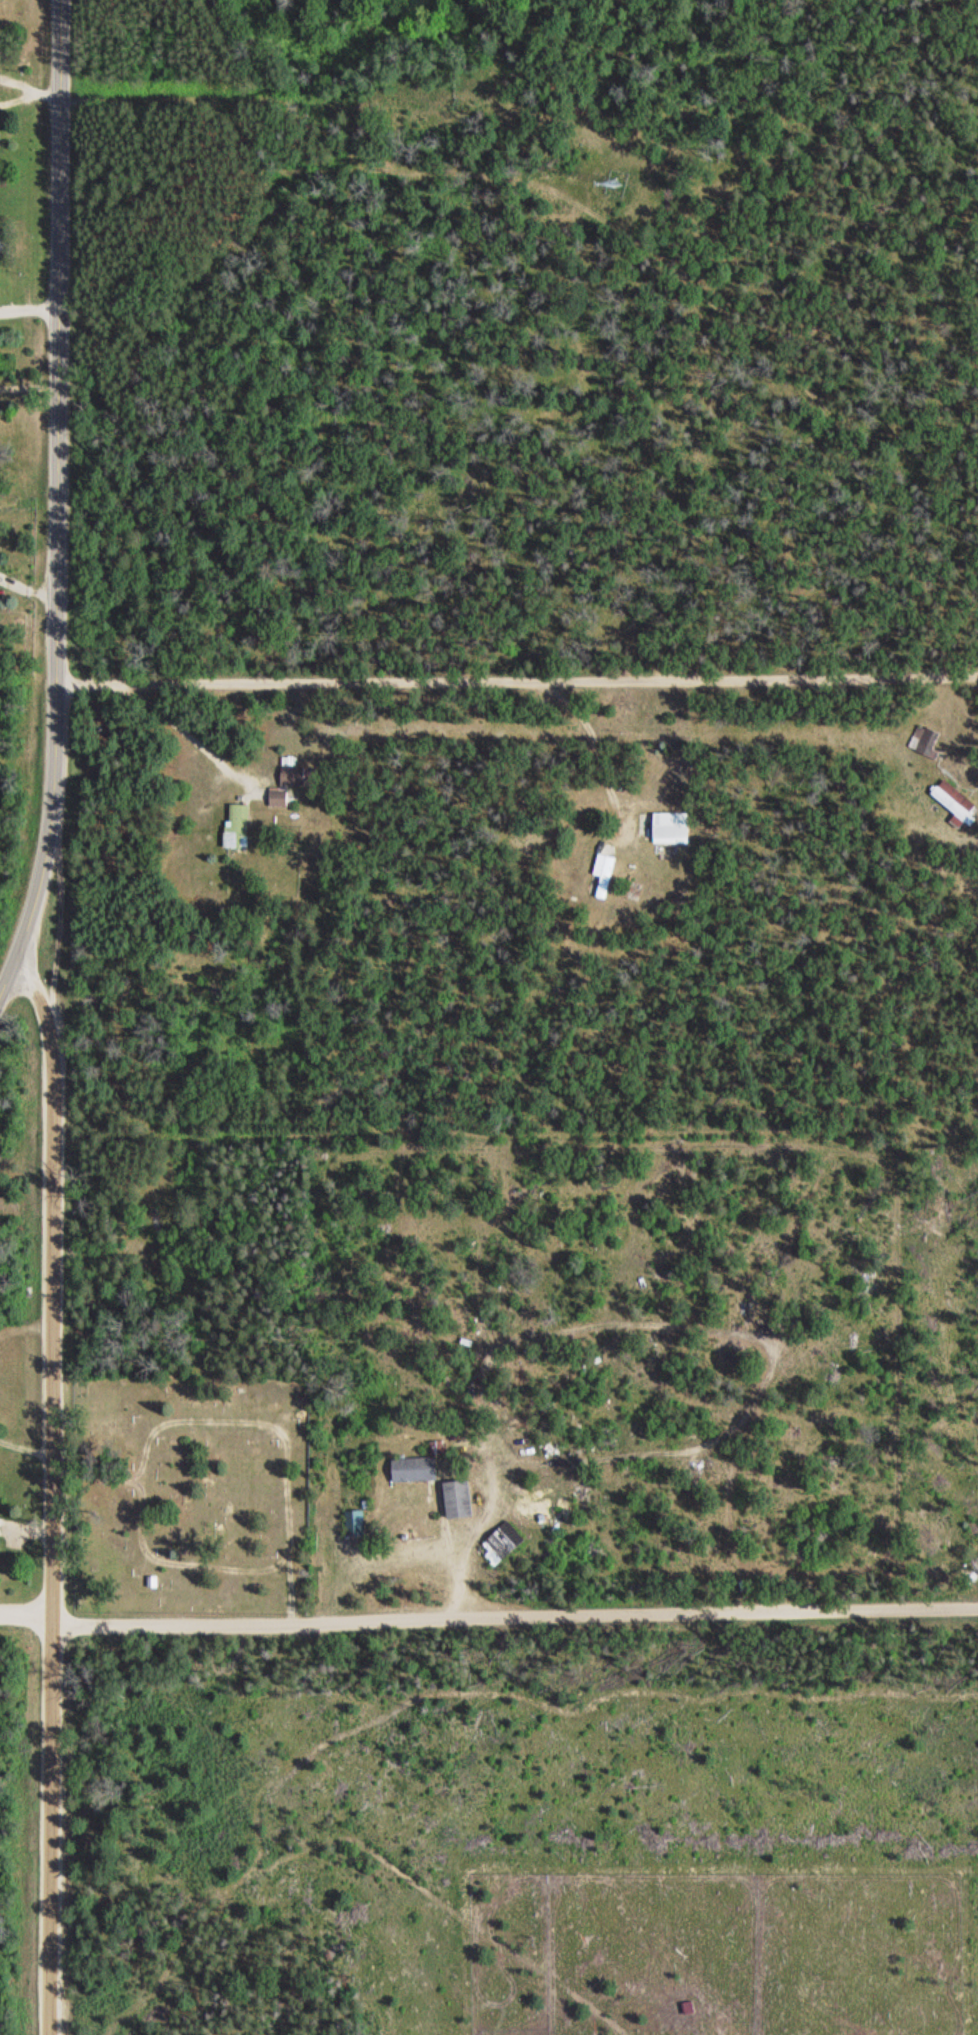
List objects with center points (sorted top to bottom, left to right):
building: (3, 242)
road: (30, 309)
road: (57, 507)
road: (517, 680)
building: (924, 741)
building: (293, 775)
building: (276, 797)
building: (954, 802)
building: (235, 826)
building: (665, 827)
building: (601, 877)
building: (412, 1470)
park: (190, 1492)
road: (52, 1496)
building: (456, 1500)
building: (353, 1523)
building: (500, 1544)
building: (314, 1551)
road: (26, 1615)
road: (514, 1615)
road: (347, 1820)

